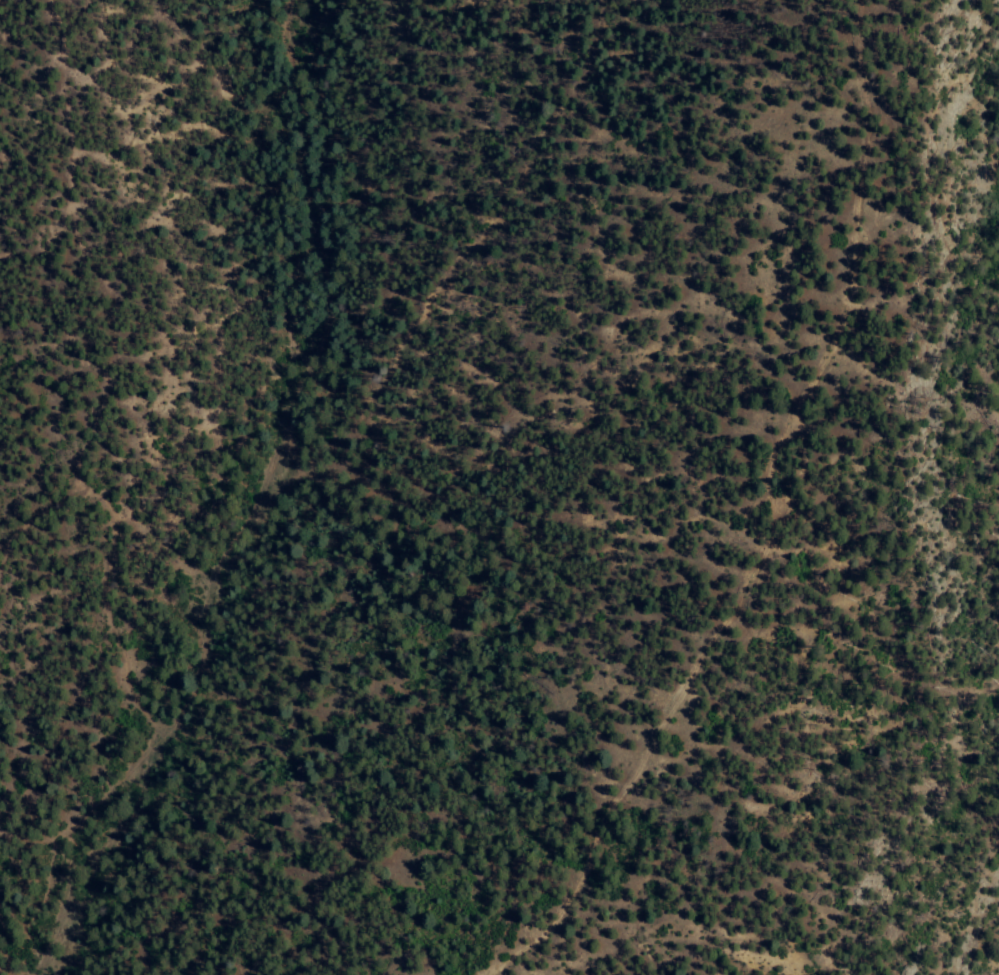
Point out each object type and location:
road: (302, 505)
road: (754, 510)

